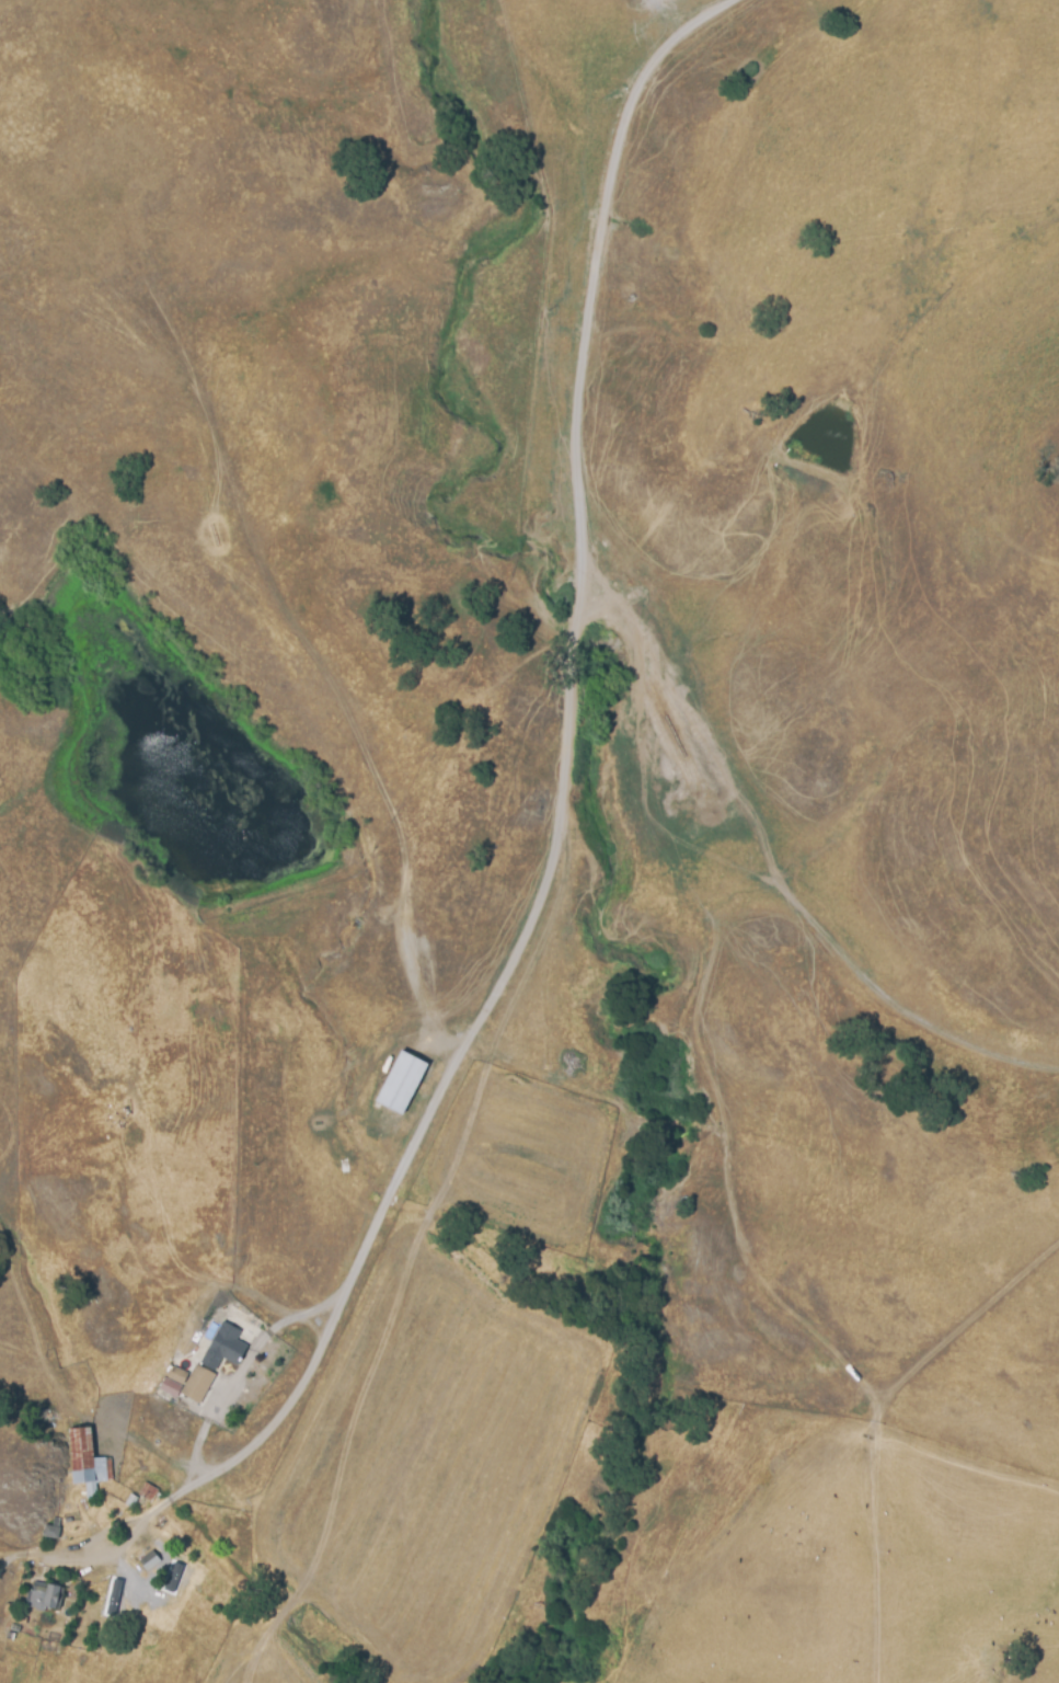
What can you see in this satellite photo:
road: (354, 725)
road: (563, 814)
road: (793, 840)
building: (402, 1081)
building: (215, 1361)
building: (177, 1375)
building: (170, 1389)
building: (88, 1461)
building: (142, 1493)
building: (183, 1534)
building: (156, 1556)
building: (46, 1596)
building: (20, 1617)

